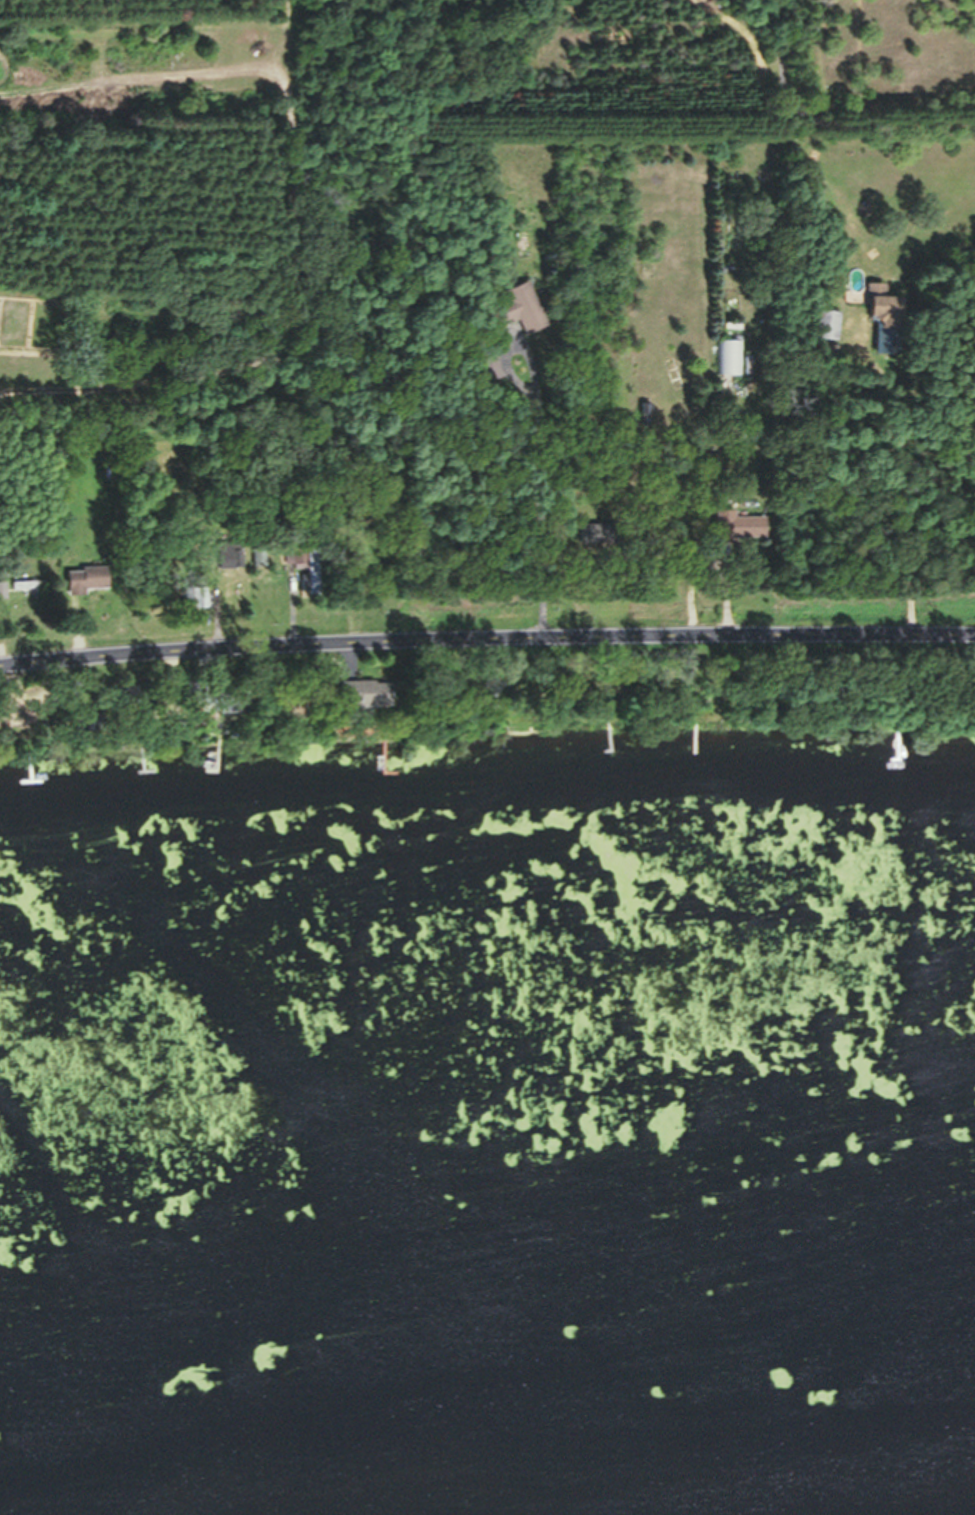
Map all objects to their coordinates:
building: (889, 317)
building: (527, 318)
building: (830, 333)
building: (733, 366)
road: (539, 448)
building: (92, 588)
building: (316, 588)
building: (30, 596)
road: (486, 631)
building: (394, 768)
river: (868, 1500)

